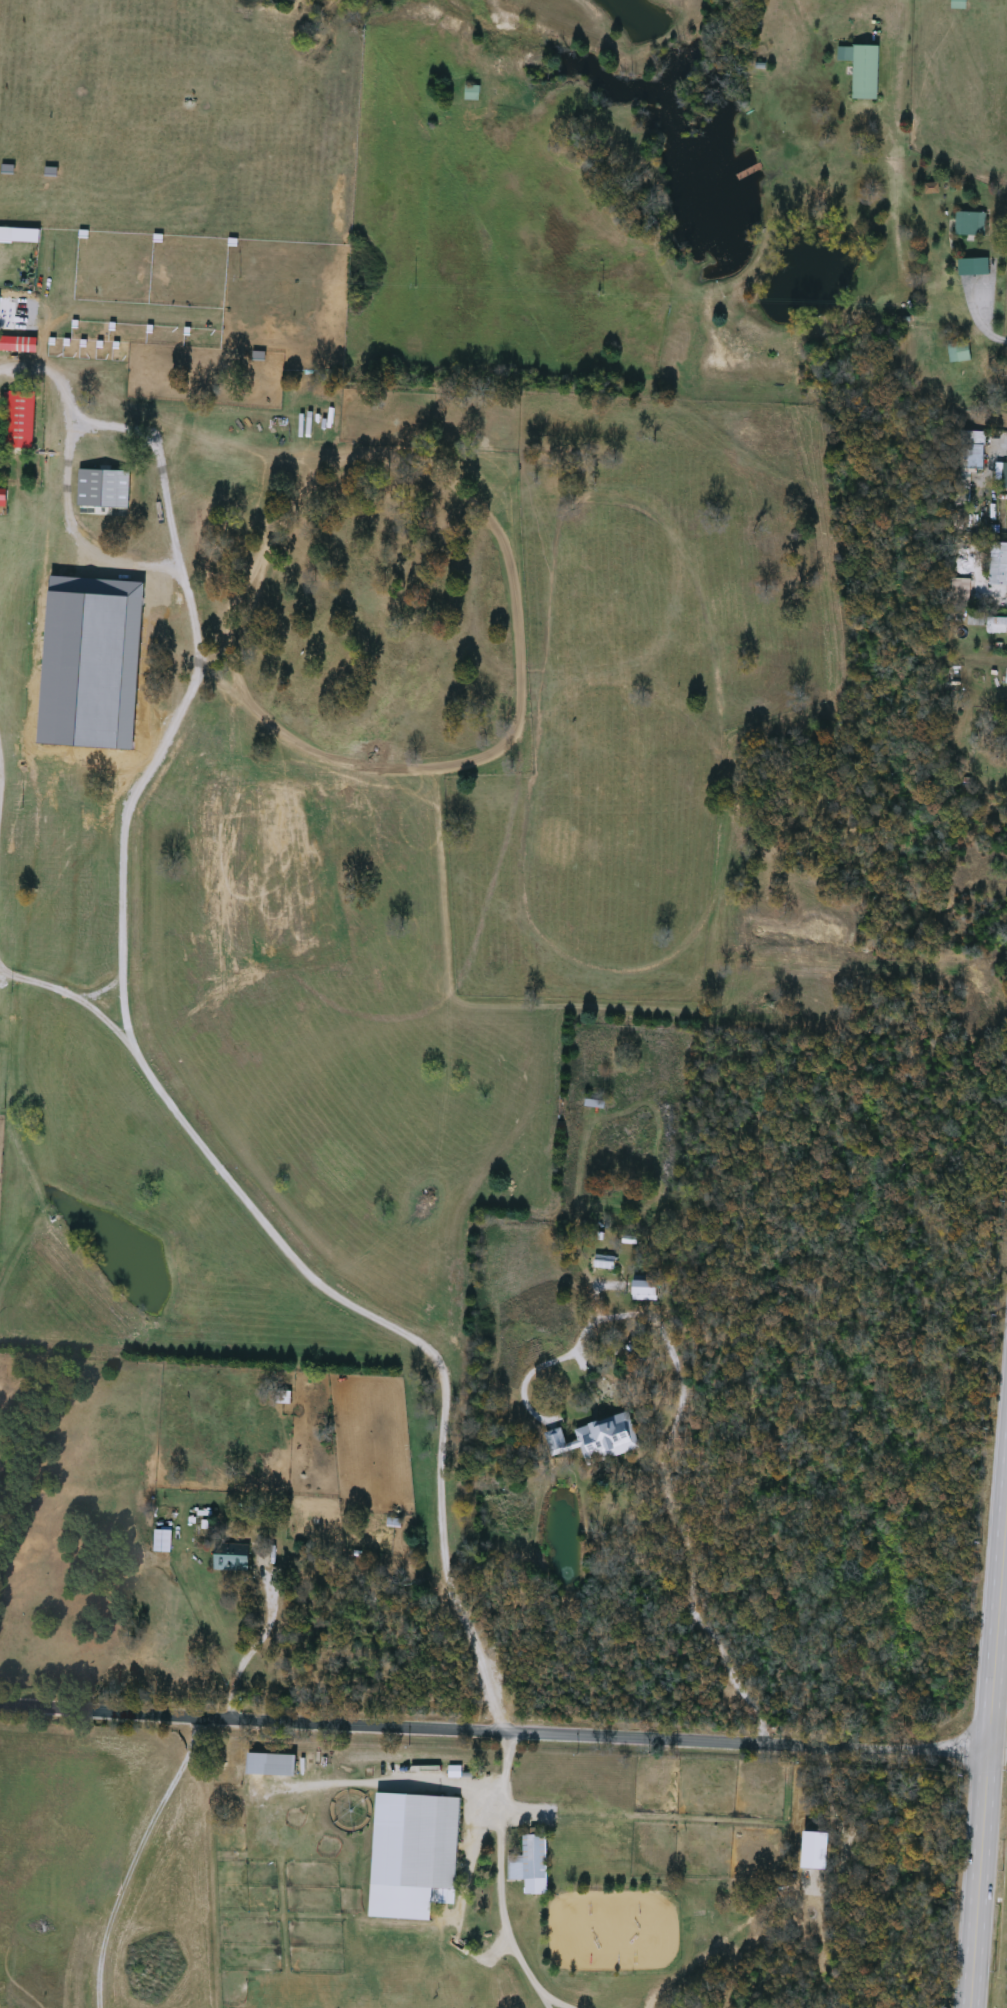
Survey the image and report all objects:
building: (960, 5)
building: (865, 72)
building: (473, 94)
building: (971, 225)
building: (7, 237)
road: (977, 322)
building: (18, 346)
building: (21, 422)
building: (972, 451)
building: (1006, 471)
building: (999, 623)
road: (123, 672)
building: (1000, 736)
building: (597, 1101)
building: (645, 1289)
road: (348, 1301)
building: (598, 1440)
road: (671, 1441)
building: (163, 1542)
building: (232, 1558)
road: (251, 1654)
road: (991, 1708)
road: (495, 1735)
road: (998, 1740)
building: (272, 1767)
road: (495, 1792)
building: (414, 1857)
road: (136, 1859)
building: (533, 1860)
road: (501, 1896)
road: (558, 2001)

